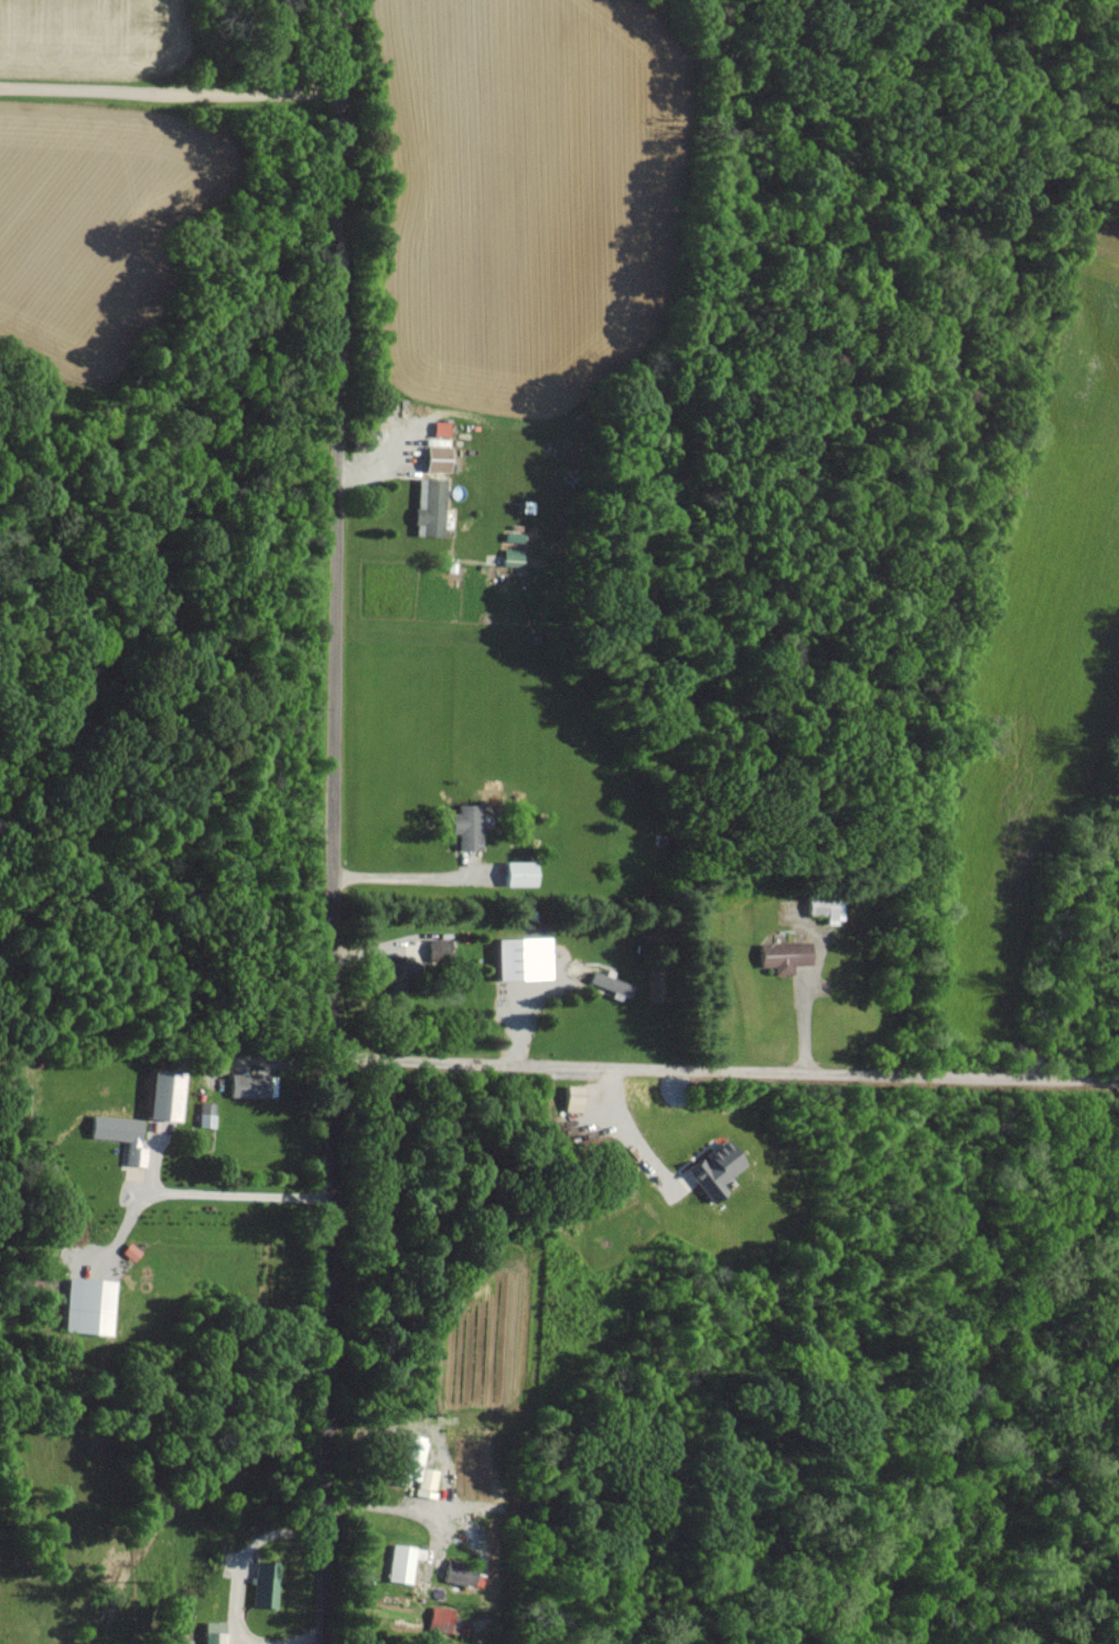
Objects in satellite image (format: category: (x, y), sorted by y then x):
road: (173, 58)
building: (437, 428)
building: (431, 454)
building: (427, 507)
building: (506, 556)
road: (337, 584)
building: (462, 826)
building: (514, 872)
road: (409, 880)
building: (778, 955)
building: (516, 958)
building: (605, 984)
road: (798, 1017)
road: (725, 1079)
building: (251, 1084)
building: (169, 1094)
building: (561, 1097)
building: (207, 1114)
building: (123, 1135)
building: (708, 1170)
road: (238, 1192)
building: (92, 1305)
road: (327, 1406)
building: (406, 1457)
road: (389, 1507)
building: (398, 1561)
building: (453, 1572)
building: (265, 1584)
building: (435, 1618)
building: (208, 1632)

